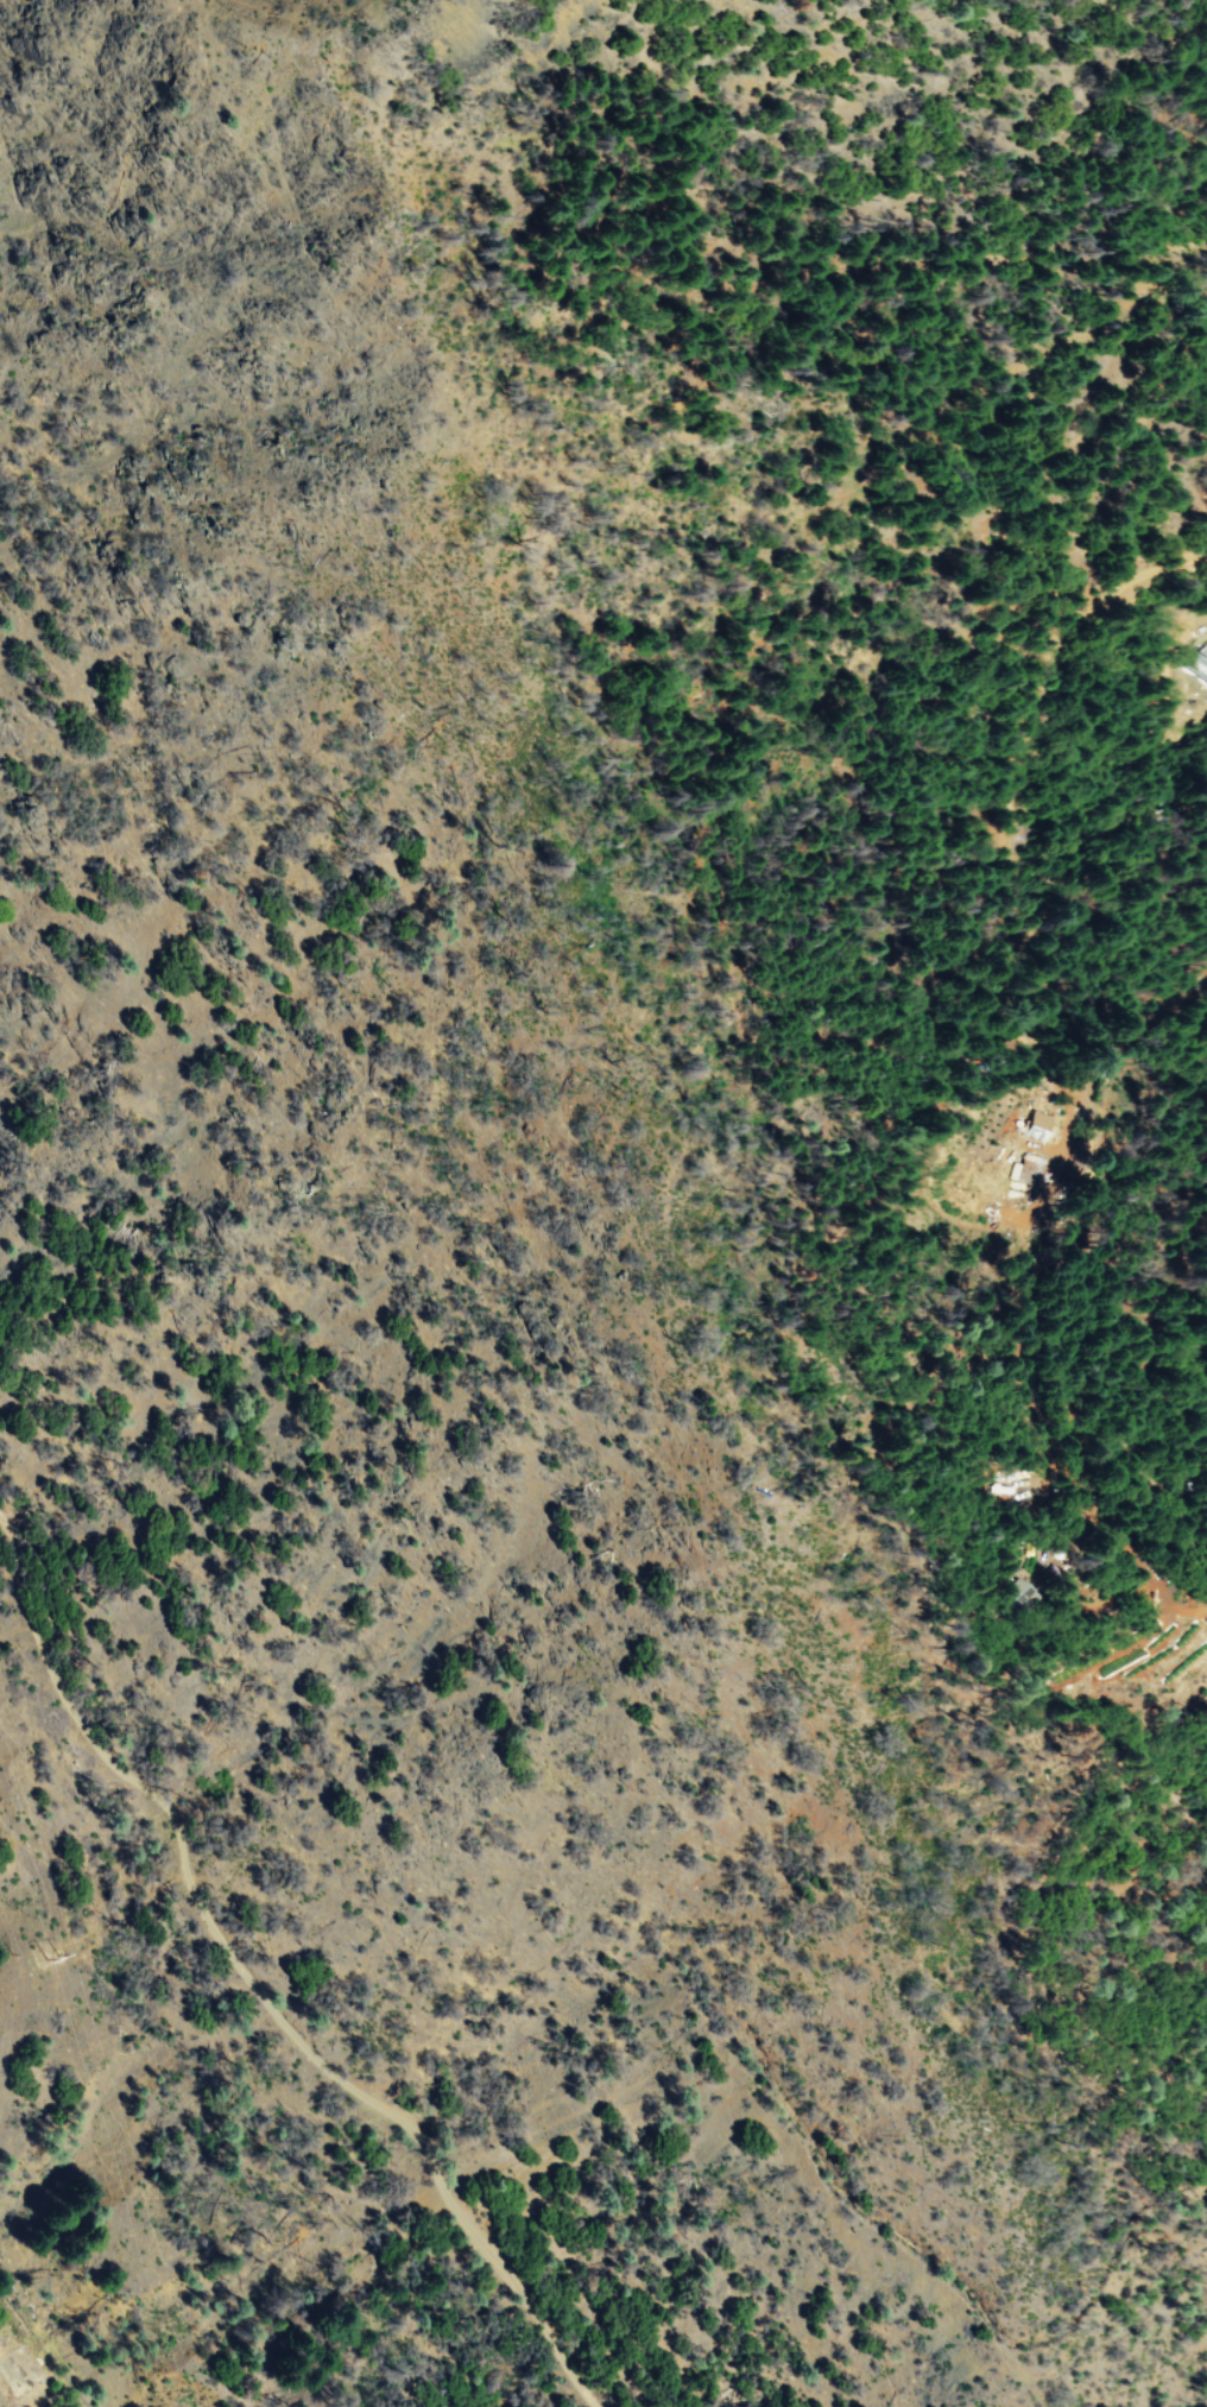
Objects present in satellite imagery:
road: (1036, 785)
building: (1036, 1124)
building: (1024, 1167)
building: (1011, 1596)
power tower: (38, 1948)
road: (274, 1971)

